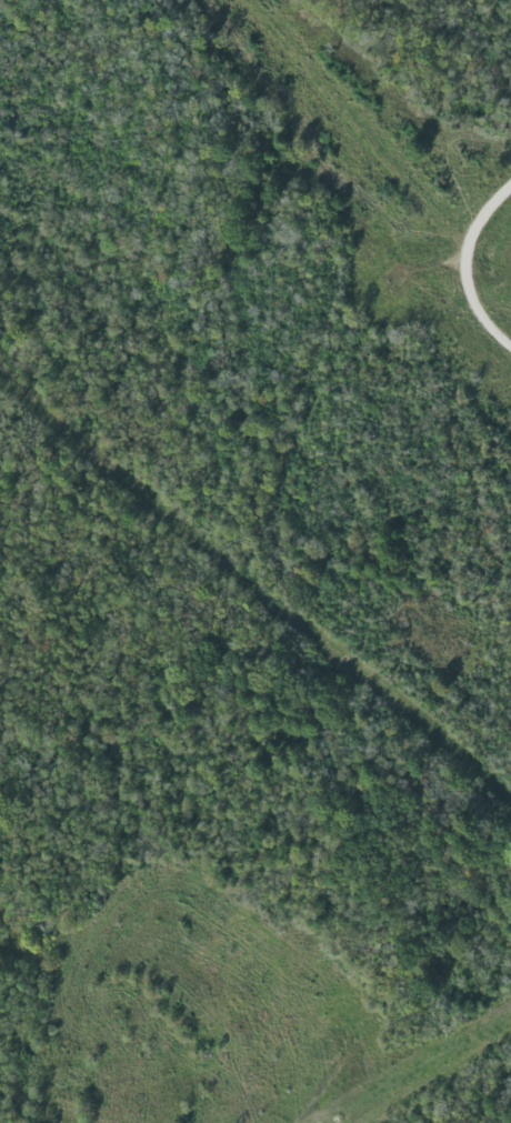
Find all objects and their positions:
road: (491, 218)
road: (475, 290)

